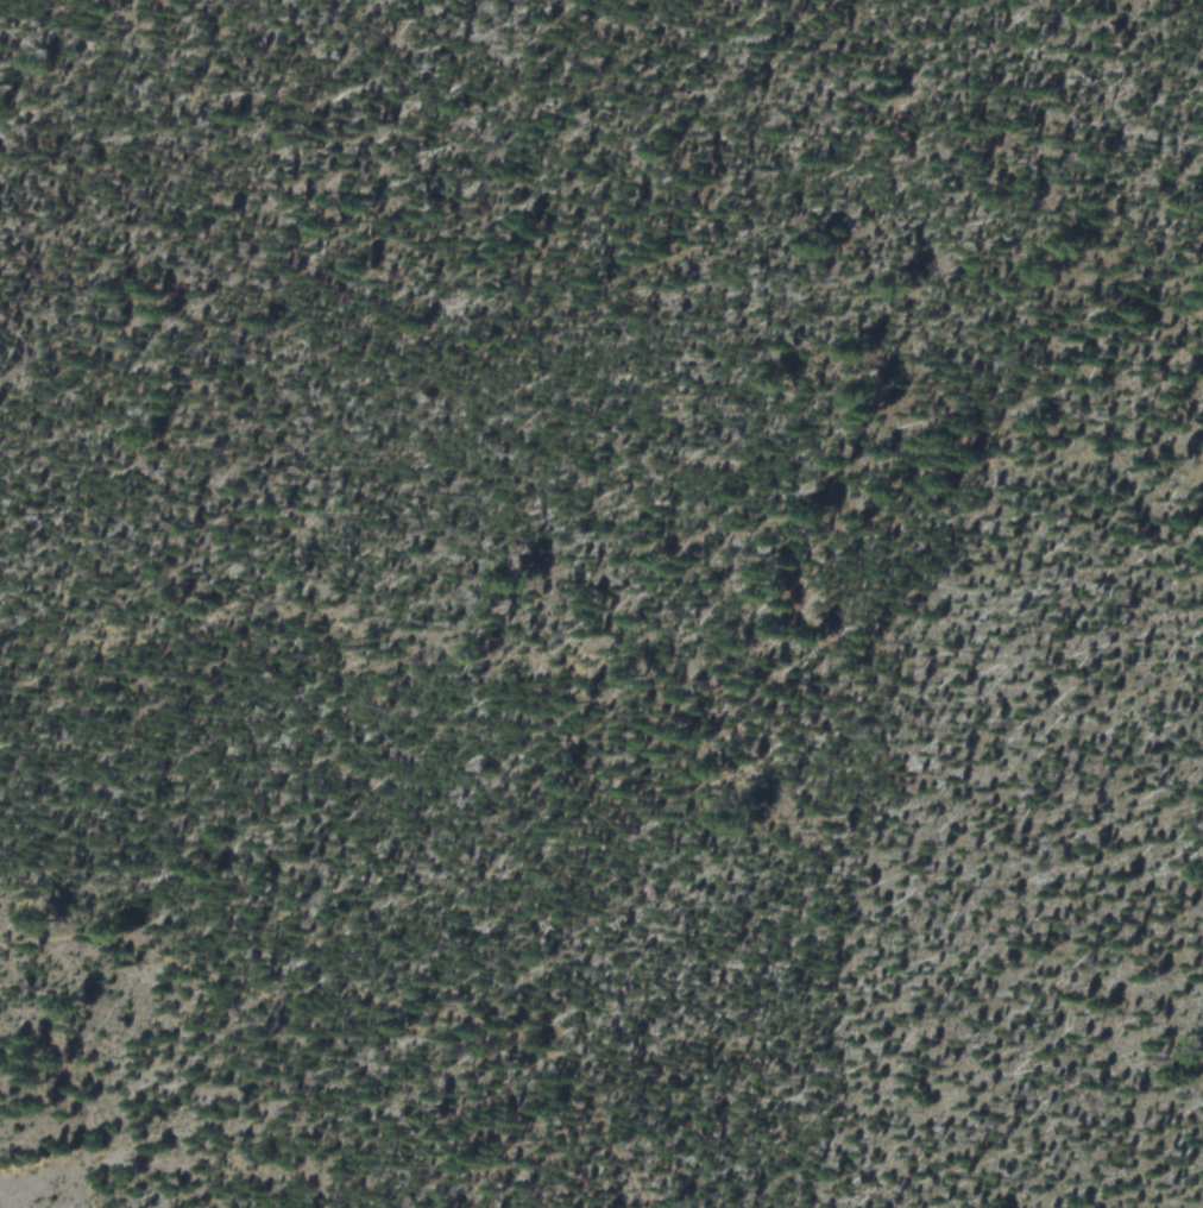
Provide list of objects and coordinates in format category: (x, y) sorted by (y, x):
road: (116, 356)
road: (367, 998)

